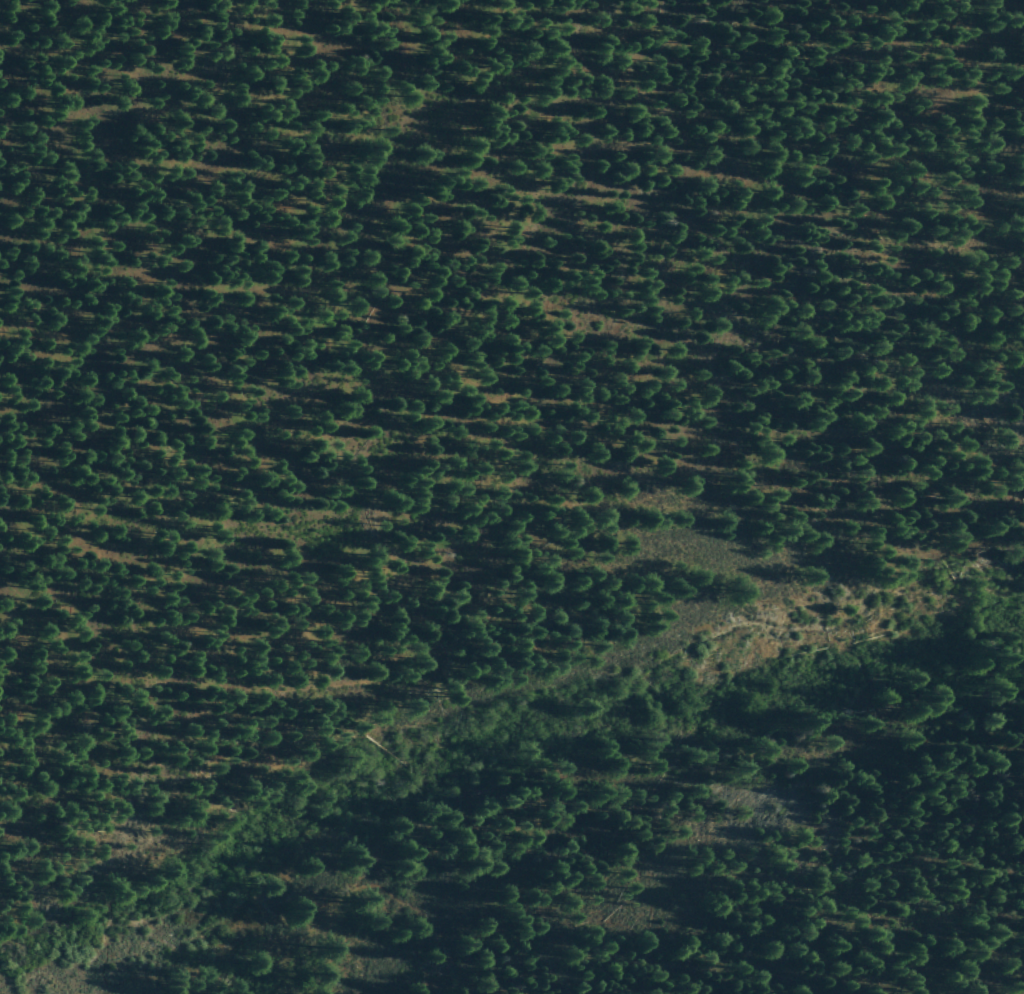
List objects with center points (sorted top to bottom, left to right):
road: (52, 622)
road: (479, 678)
road: (50, 902)
road: (103, 911)
road: (270, 919)

